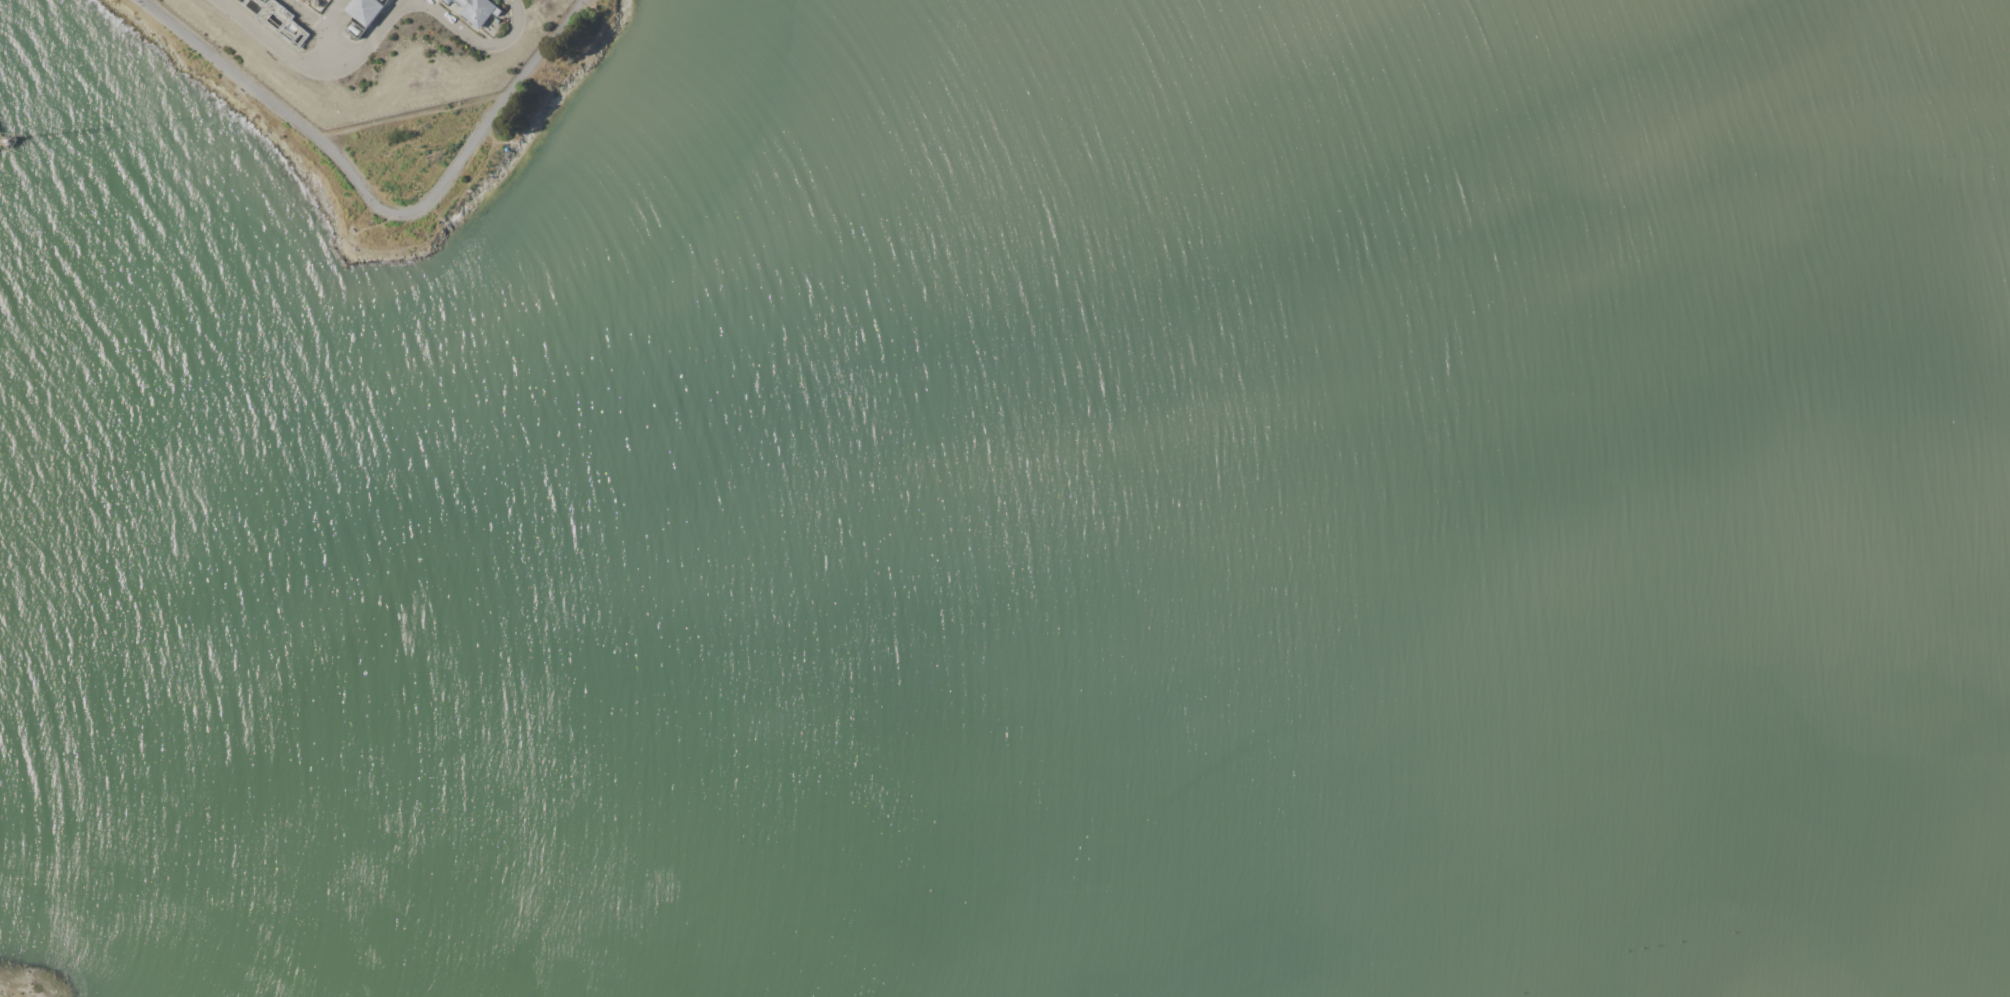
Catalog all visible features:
building: (448, 1)
building: (365, 10)
building: (479, 10)
building: (497, 20)
building: (270, 24)
building: (355, 29)
road: (479, 44)
wastewater plant: (372, 49)
road: (313, 68)
park: (266, 121)
pier: (4, 143)
road: (376, 203)
park: (31, 982)

